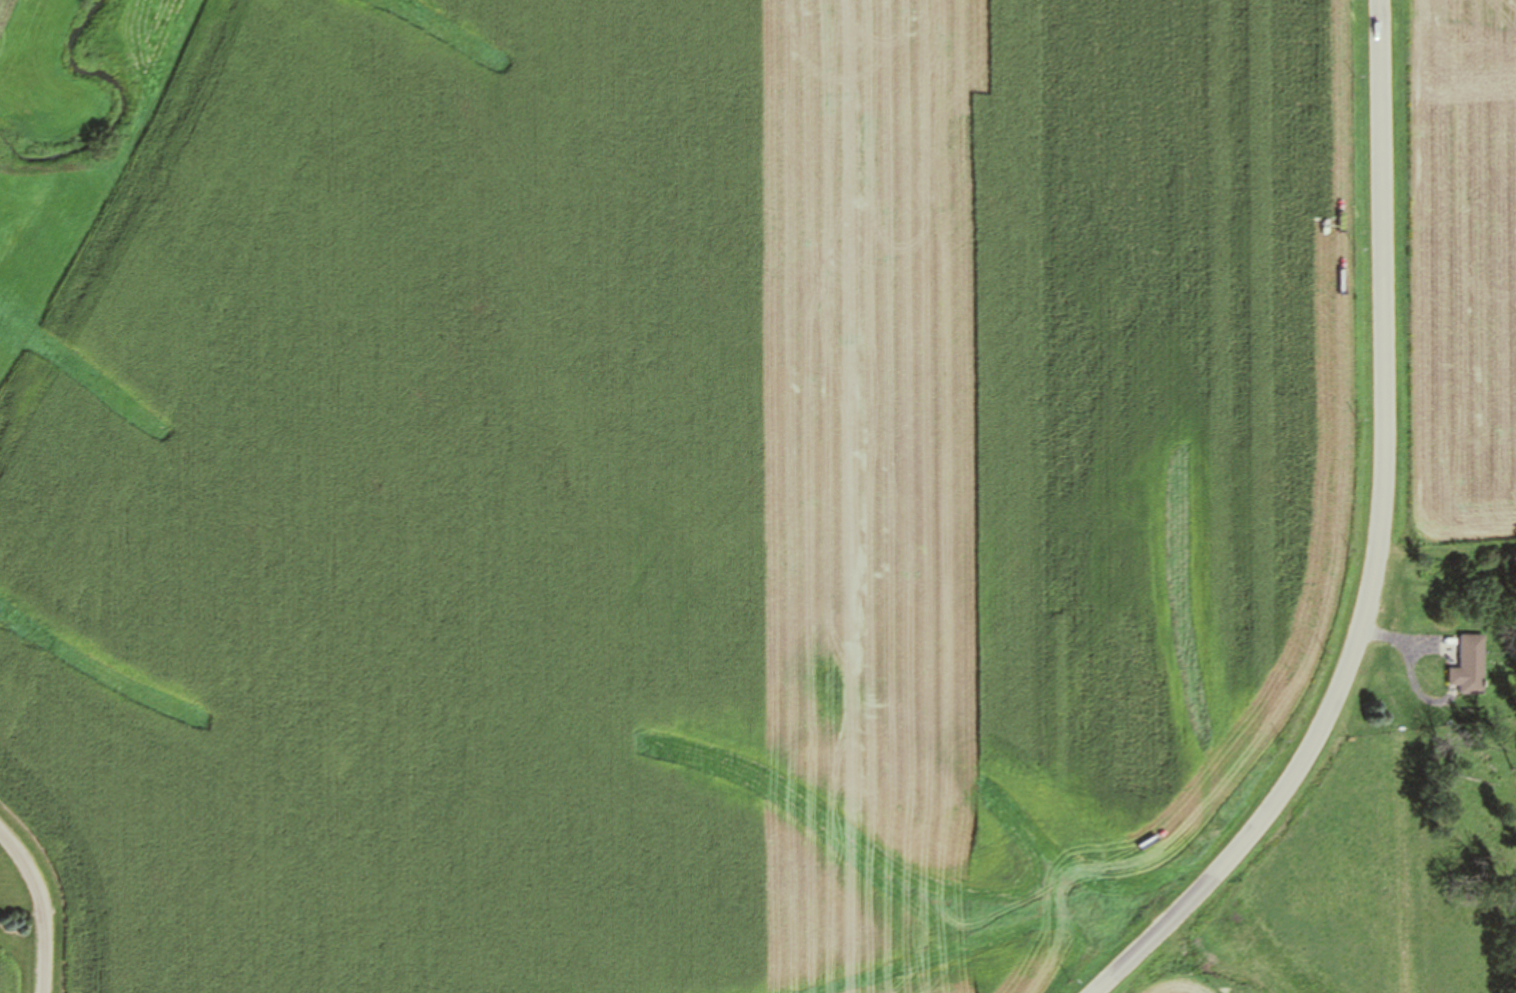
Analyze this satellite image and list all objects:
road: (1377, 543)
building: (1469, 666)
road: (43, 905)

